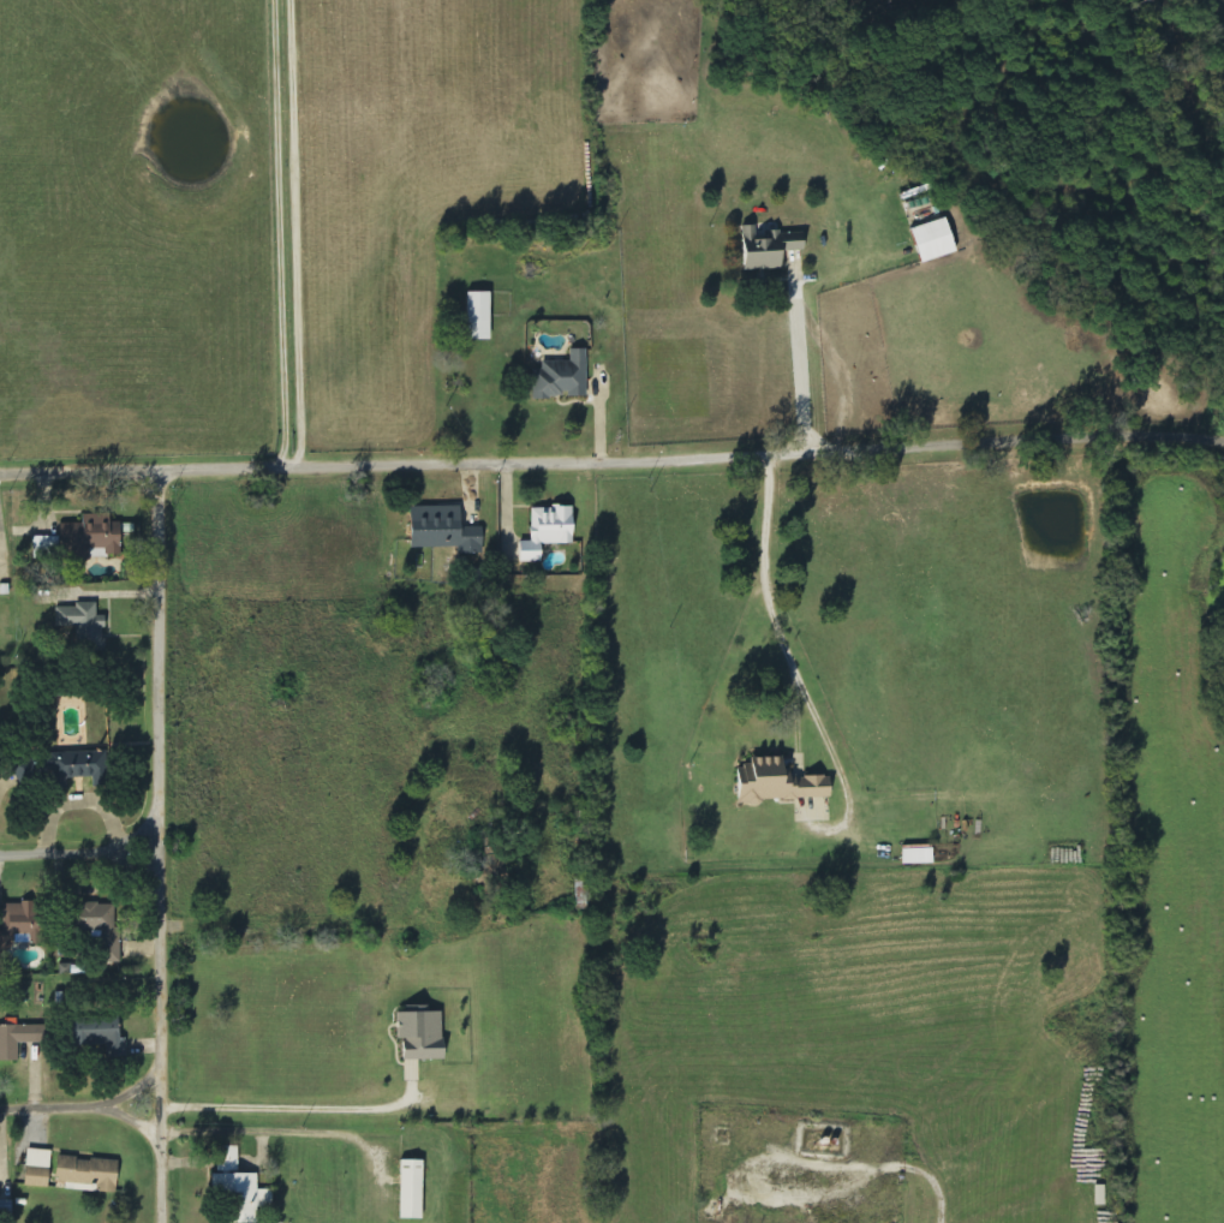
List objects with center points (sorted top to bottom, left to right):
building: (933, 240)
building: (768, 247)
building: (478, 316)
building: (562, 377)
road: (692, 458)
road: (79, 469)
building: (443, 531)
building: (548, 531)
building: (91, 538)
building: (46, 548)
building: (82, 624)
building: (64, 768)
building: (777, 783)
road: (156, 846)
road: (78, 849)
building: (918, 855)
building: (20, 923)
building: (102, 926)
building: (420, 1034)
building: (97, 1038)
building: (16, 1040)
road: (82, 1106)
road: (135, 1120)
building: (227, 1159)
building: (37, 1169)
building: (88, 1175)
building: (411, 1191)
building: (1099, 1195)
building: (243, 1197)

